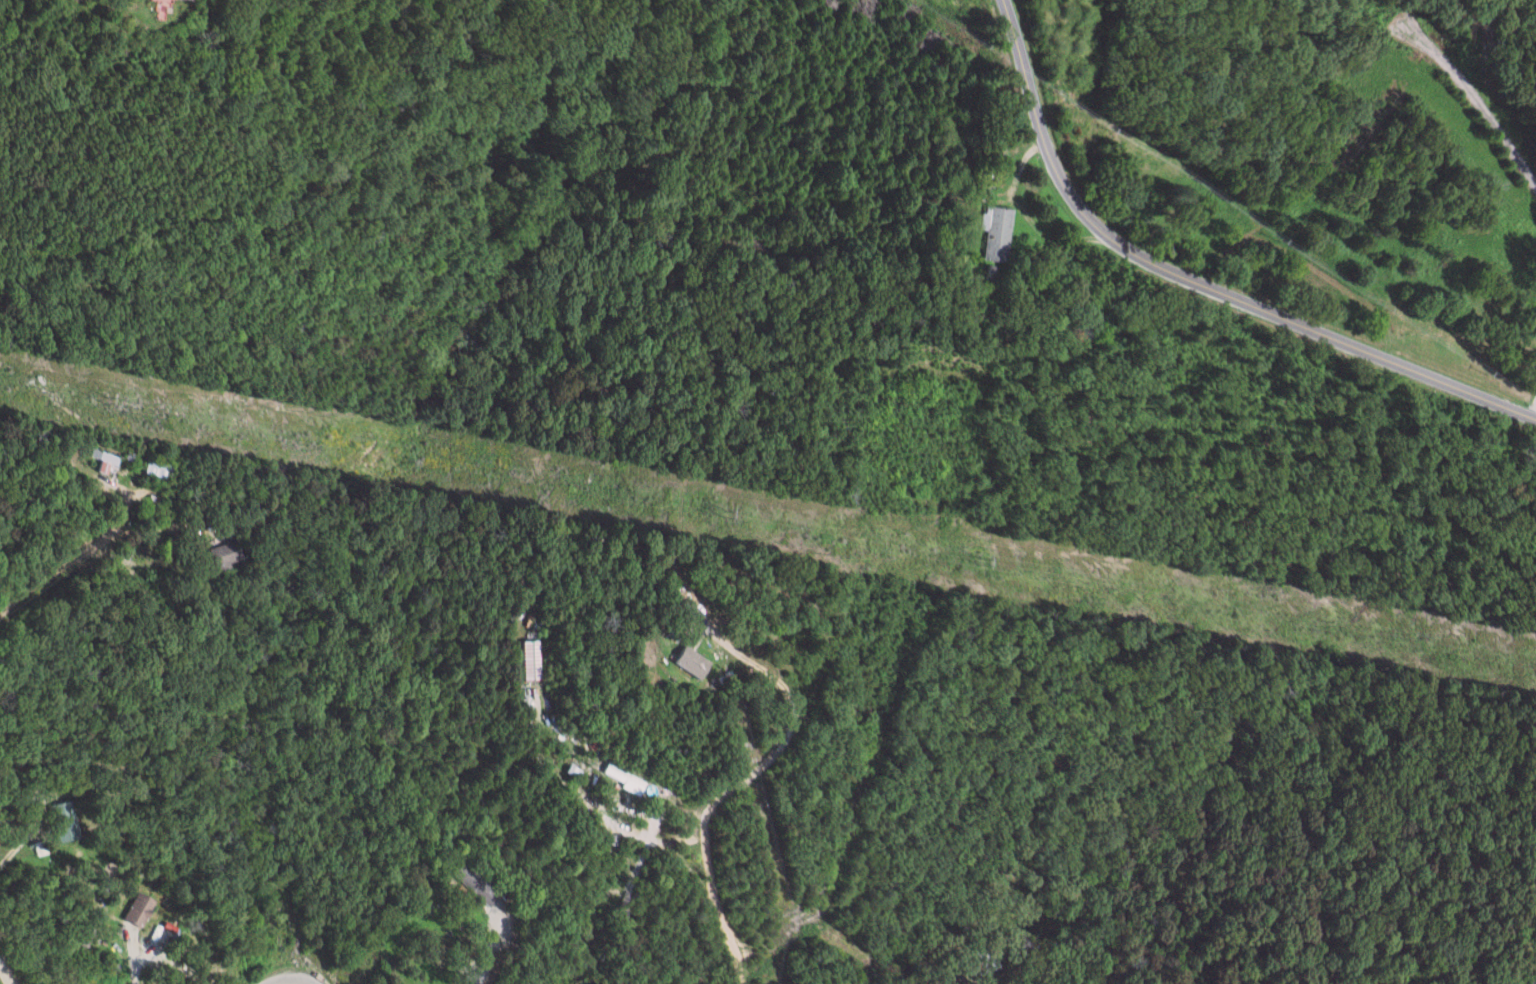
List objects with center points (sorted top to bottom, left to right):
building: (164, 9)
road: (1477, 96)
road: (1023, 221)
building: (1002, 234)
road: (1199, 279)
power tower: (109, 399)
road: (1533, 413)
building: (104, 460)
building: (158, 468)
power tower: (725, 514)
road: (112, 523)
road: (93, 547)
building: (224, 555)
power tower: (983, 562)
building: (527, 660)
building: (694, 662)
road: (753, 771)
building: (624, 779)
building: (66, 821)
road: (17, 842)
building: (40, 848)
building: (475, 884)
road: (710, 903)
building: (139, 909)
road: (483, 952)
road: (125, 967)
road: (287, 972)
road: (1, 981)

